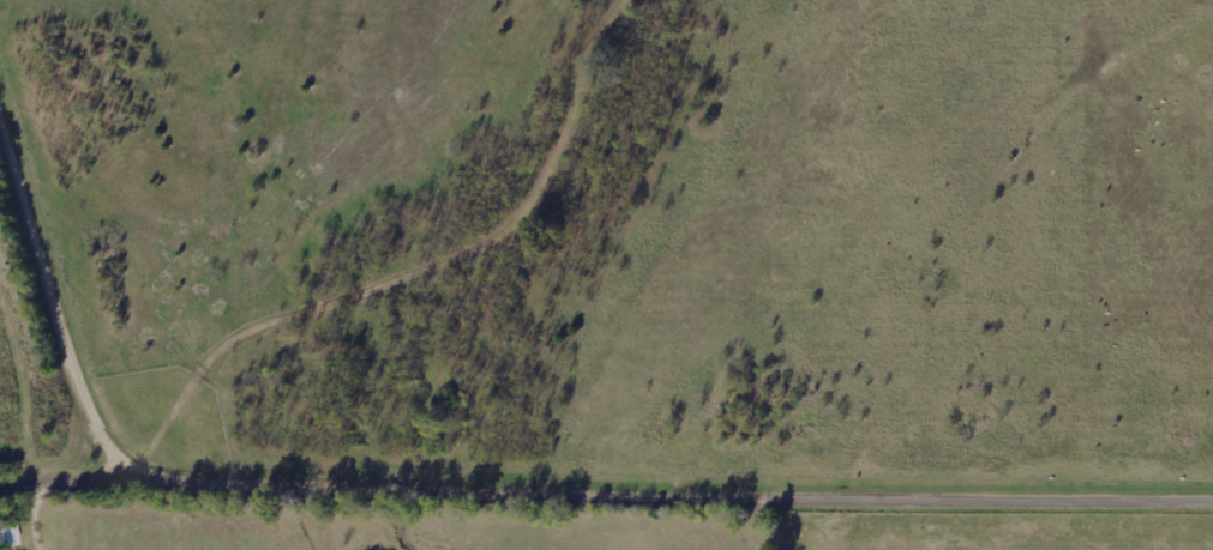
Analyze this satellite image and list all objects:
road: (60, 291)
road: (67, 488)
road: (673, 503)

